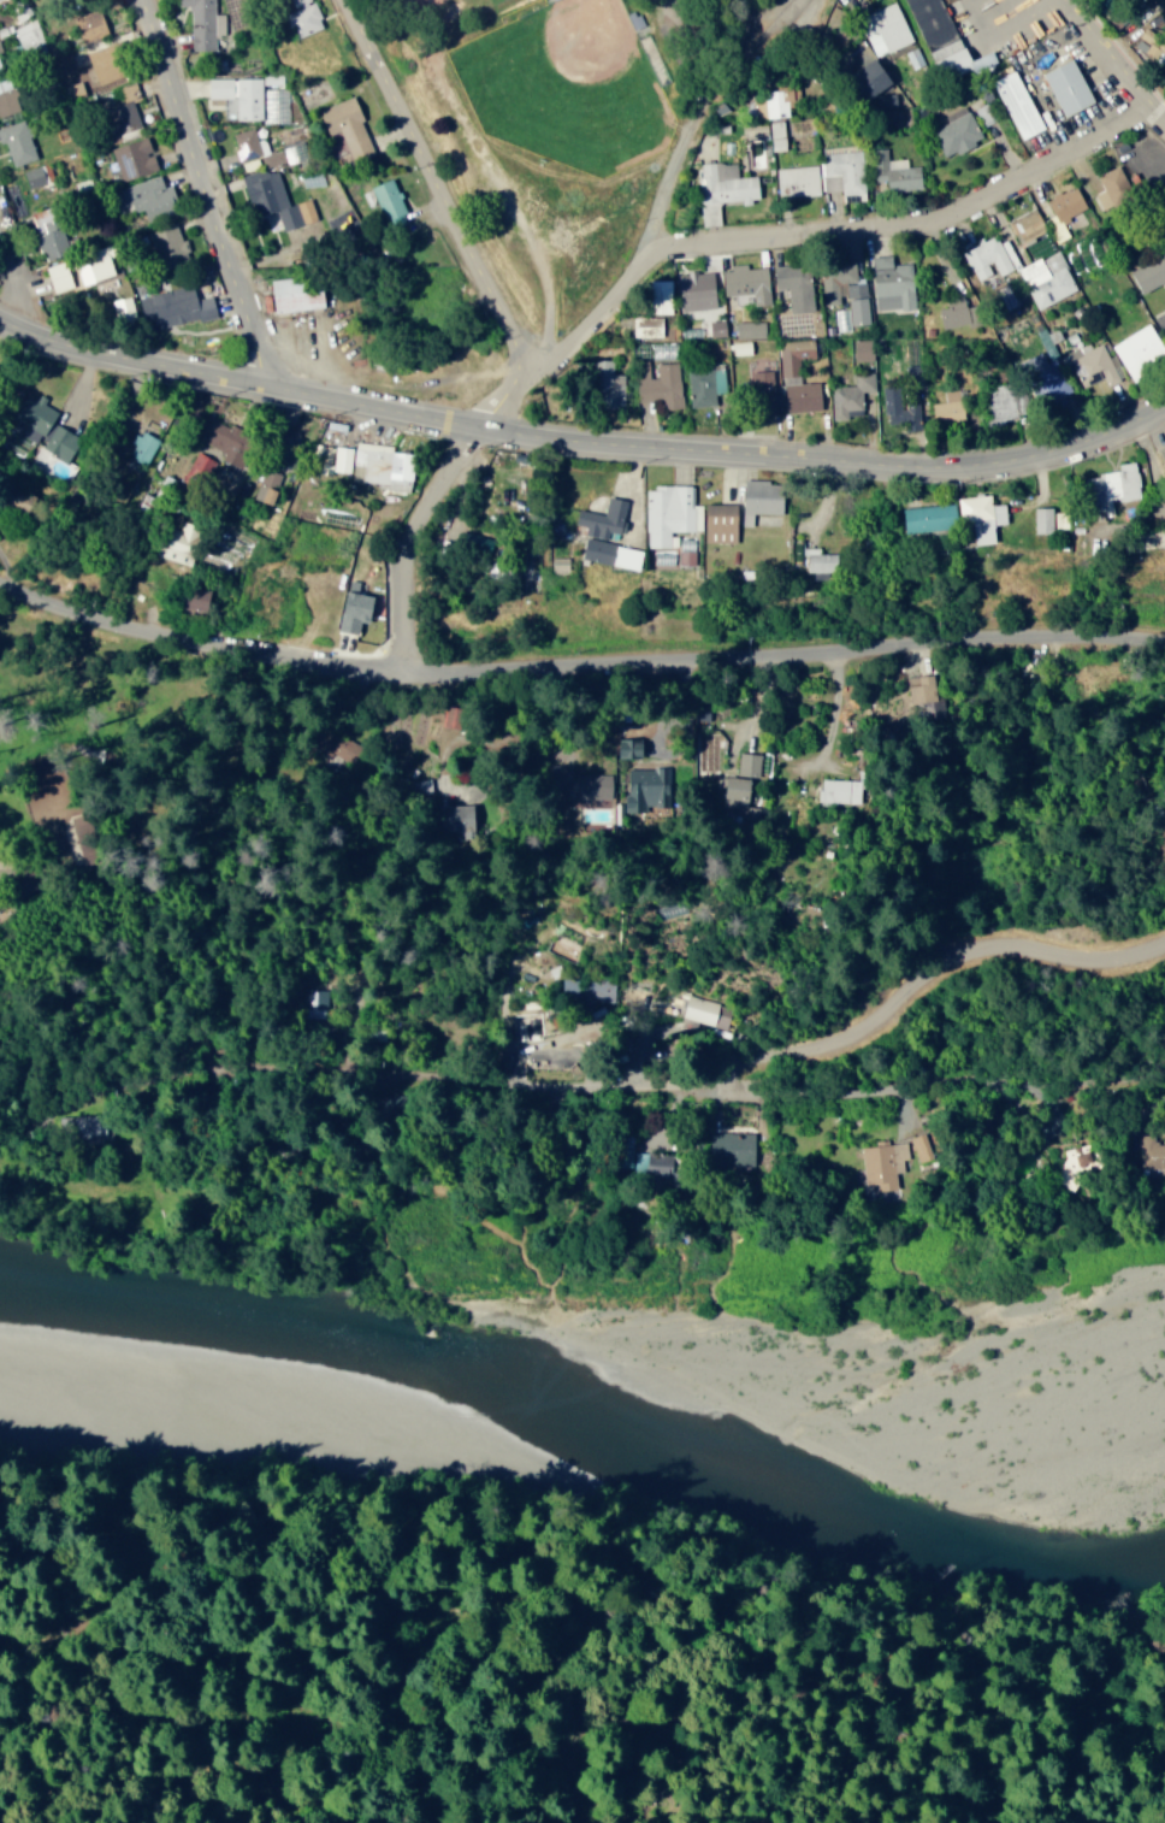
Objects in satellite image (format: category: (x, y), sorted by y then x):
building: (303, 17)
building: (203, 22)
building: (91, 24)
building: (886, 28)
building: (942, 35)
building: (29, 36)
building: (1151, 42)
building: (108, 63)
road: (1106, 64)
building: (0, 67)
road: (651, 69)
building: (876, 77)
building: (83, 79)
building: (1070, 87)
building: (241, 94)
building: (7, 96)
park: (549, 100)
building: (1019, 104)
road: (703, 108)
building: (781, 110)
building: (126, 116)
building: (757, 118)
building: (350, 126)
building: (957, 131)
building: (18, 141)
building: (295, 151)
building: (135, 158)
building: (842, 170)
building: (894, 172)
building: (797, 179)
building: (40, 181)
building: (270, 184)
road: (436, 184)
building: (1113, 187)
building: (723, 188)
road: (206, 194)
building: (152, 197)
building: (391, 201)
building: (1068, 201)
building: (52, 230)
road: (915, 231)
building: (1031, 232)
building: (170, 243)
building: (987, 258)
building: (106, 266)
building: (1152, 273)
road: (7, 276)
building: (1048, 278)
building: (749, 282)
building: (894, 283)
building: (797, 284)
building: (698, 289)
building: (662, 290)
building: (301, 293)
building: (848, 294)
building: (177, 306)
building: (125, 307)
building: (957, 313)
building: (647, 326)
building: (751, 328)
building: (741, 347)
building: (864, 349)
road: (569, 352)
building: (1141, 352)
building: (1042, 366)
building: (799, 376)
building: (607, 382)
building: (706, 382)
building: (763, 387)
building: (853, 396)
building: (900, 405)
building: (951, 406)
building: (45, 427)
building: (143, 444)
road: (579, 449)
building: (1163, 450)
building: (372, 465)
building: (197, 471)
building: (262, 488)
building: (1114, 488)
building: (764, 500)
building: (672, 514)
building: (933, 517)
building: (605, 518)
building: (984, 518)
building: (1051, 519)
building: (723, 521)
building: (178, 547)
road: (412, 547)
building: (614, 553)
building: (821, 561)
building: (357, 606)
road: (576, 671)
building: (915, 688)
building: (634, 745)
building: (706, 751)
building: (749, 762)
building: (421, 779)
building: (580, 781)
building: (649, 785)
building: (841, 789)
building: (743, 795)
building: (465, 816)
building: (0, 875)
building: (564, 942)
building: (587, 987)
building: (315, 1001)
building: (703, 1013)
building: (539, 1021)
road: (687, 1096)
road: (935, 1097)
road: (85, 1102)
building: (735, 1148)
building: (1149, 1152)
building: (883, 1163)
building: (1066, 1167)
road: (329, 1197)
river: (584, 1426)

